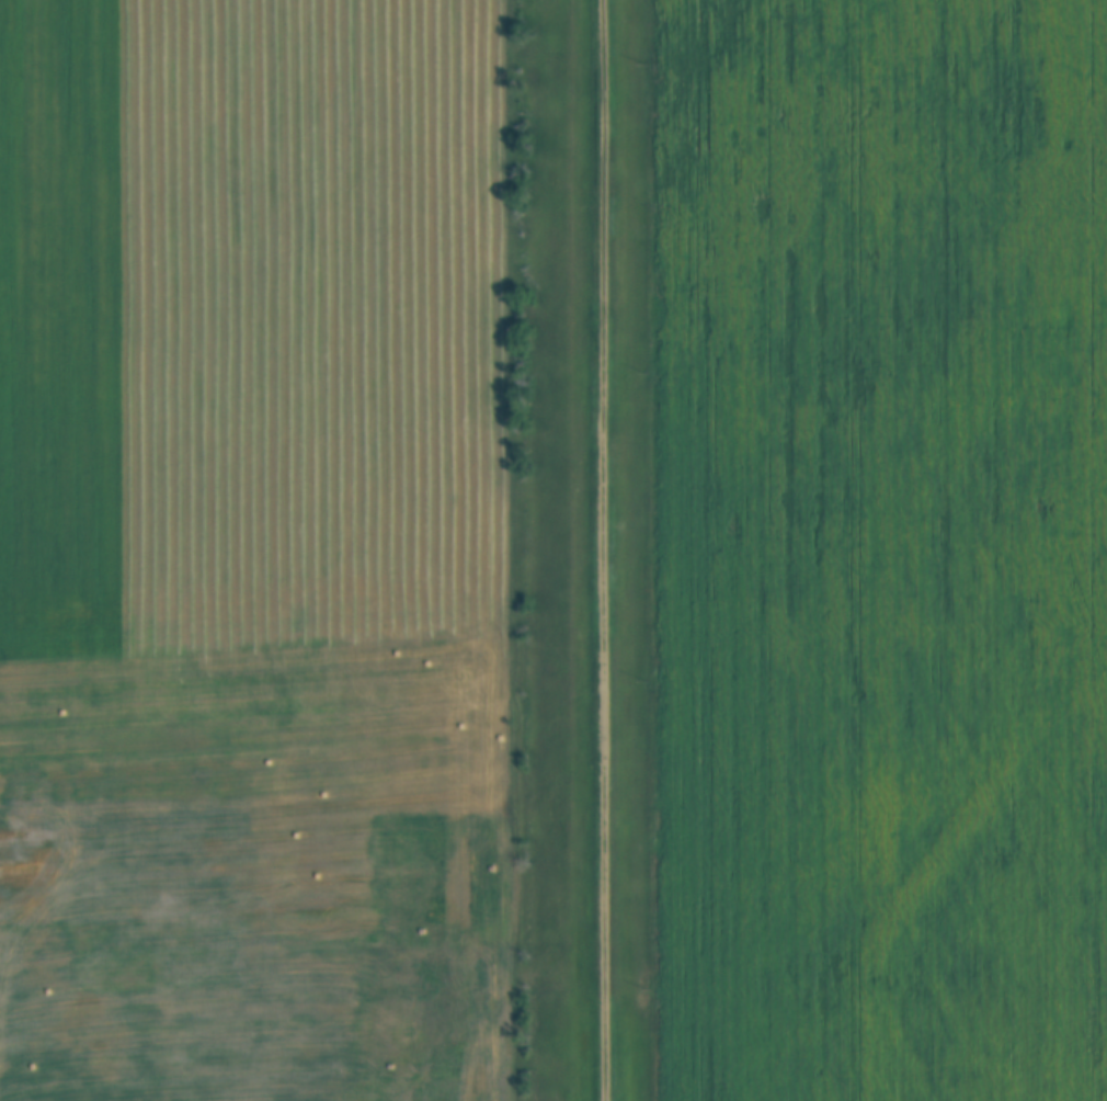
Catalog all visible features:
road: (602, 550)

